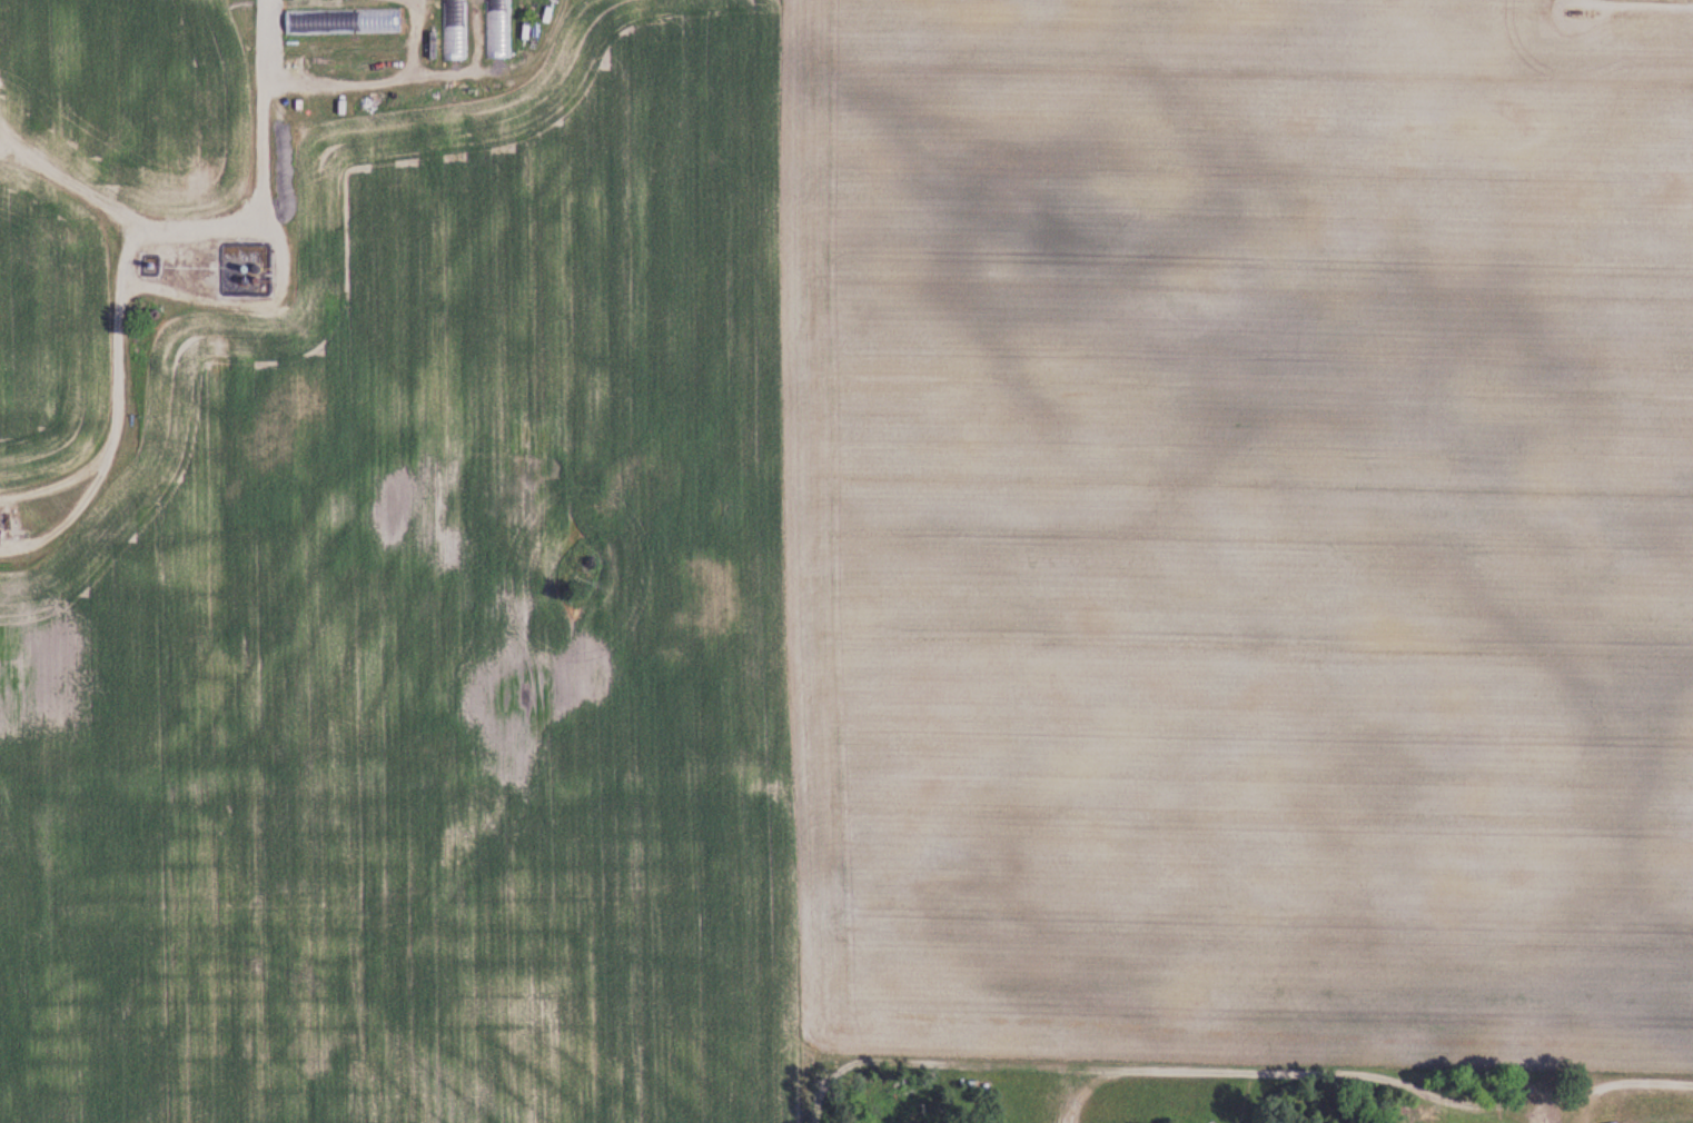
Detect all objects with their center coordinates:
petroleum well: (1585, 8)
building: (344, 22)
building: (454, 32)
building: (373, 50)
building: (323, 51)
road: (131, 267)

